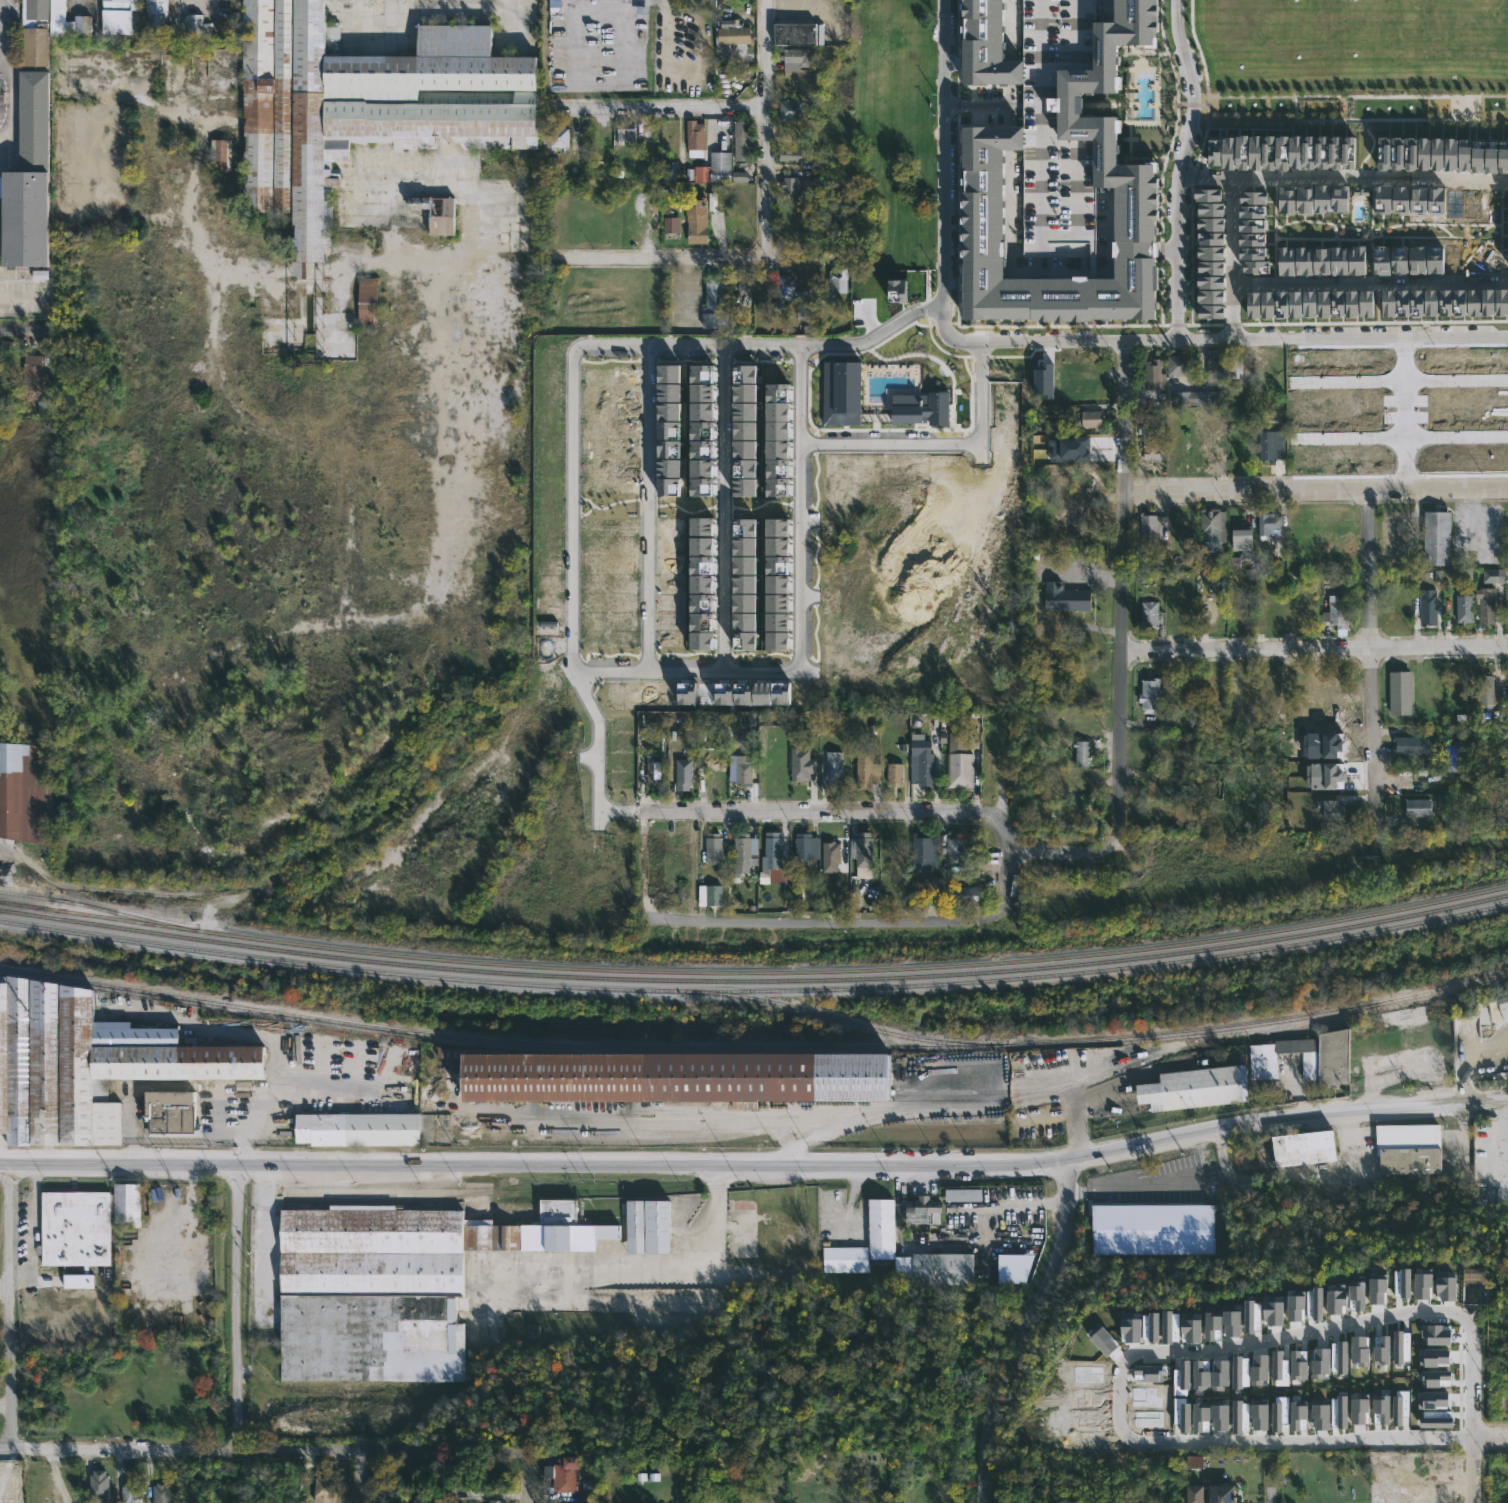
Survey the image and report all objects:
road: (1106, 9)
building: (117, 15)
road: (795, 15)
building: (156, 16)
road: (667, 24)
building: (196, 25)
building: (47, 28)
road: (1008, 30)
building: (795, 32)
building: (734, 34)
building: (986, 47)
building: (796, 57)
road: (1009, 74)
road: (12, 101)
road: (955, 103)
road: (989, 103)
building: (363, 106)
road: (1009, 108)
road: (695, 109)
building: (791, 109)
building: (625, 130)
building: (1055, 130)
parking garage: (1055, 130)
road: (766, 131)
building: (555, 138)
building: (695, 138)
building: (741, 139)
road: (1009, 141)
building: (1295, 151)
building: (1249, 152)
building: (1328, 152)
building: (1383, 153)
building: (1397, 153)
building: (1410, 153)
building: (1437, 153)
building: (1450, 153)
building: (793, 154)
building: (1423, 154)
building: (220, 155)
building: (1464, 155)
building: (1477, 156)
building: (1490, 157)
building: (1503, 157)
building: (984, 158)
building: (721, 166)
road: (940, 168)
road: (1177, 168)
road: (1342, 177)
building: (27, 178)
building: (790, 185)
building: (1208, 195)
building: (1360, 196)
building: (1322, 198)
building: (1340, 199)
building: (1382, 199)
building: (1304, 200)
building: (1400, 200)
building: (1286, 201)
building: (1252, 204)
building: (791, 206)
building: (437, 213)
building: (697, 221)
road: (1108, 222)
building: (671, 225)
building: (1251, 225)
building: (1251, 239)
building: (1210, 246)
road: (1136, 248)
road: (1168, 248)
road: (1103, 249)
road: (1232, 257)
building: (1252, 259)
road: (578, 260)
road: (708, 261)
building: (1321, 261)
road: (1010, 272)
building: (838, 279)
road: (1369, 280)
building: (744, 281)
building: (784, 289)
building: (897, 290)
building: (1210, 296)
parking lot: (25, 299)
building: (1446, 300)
building: (1460, 300)
building: (1473, 302)
building: (1487, 302)
building: (1501, 302)
building: (367, 303)
building: (1352, 303)
building: (1430, 303)
building: (715, 304)
building: (1274, 304)
building: (1316, 304)
building: (1366, 304)
building: (1211, 311)
road: (26, 330)
road: (1313, 338)
road: (969, 341)
road: (1056, 341)
building: (1235, 362)
building: (1179, 364)
building: (1216, 367)
building: (1155, 374)
building: (32, 376)
building: (1069, 381)
building: (1092, 381)
building: (1044, 382)
road: (1398, 384)
building: (835, 389)
building: (701, 400)
building: (912, 404)
road: (1399, 413)
building: (1092, 418)
building: (744, 430)
building: (776, 441)
building: (1151, 441)
building: (1181, 441)
road: (1398, 441)
building: (1211, 442)
road: (933, 444)
building: (1267, 445)
building: (1082, 450)
railway: (728, 463)
building: (701, 487)
road: (1316, 492)
road: (647, 509)
road: (718, 512)
building: (1082, 515)
building: (1270, 523)
building: (1214, 525)
building: (1148, 532)
building: (1435, 537)
building: (1506, 537)
building: (1244, 540)
building: (1233, 563)
building: (1491, 575)
road: (1122, 579)
building: (701, 584)
building: (744, 584)
building: (777, 584)
building: (1217, 584)
road: (573, 592)
road: (1036, 593)
building: (1066, 598)
building: (1485, 606)
building: (1429, 607)
building: (1307, 609)
building: (1465, 609)
building: (1339, 612)
building: (1152, 615)
road: (1314, 649)
road: (1373, 656)
building: (1507, 670)
building: (1486, 689)
building: (734, 693)
building: (771, 693)
building: (1401, 693)
building: (1151, 696)
building: (1068, 721)
building: (1418, 745)
building: (1331, 747)
building: (1082, 754)
building: (1455, 758)
building: (958, 760)
road: (595, 766)
building: (803, 768)
building: (834, 768)
building: (922, 769)
building: (744, 770)
building: (653, 772)
building: (683, 773)
building: (867, 774)
building: (895, 774)
building: (1323, 776)
road: (998, 780)
building: (1082, 782)
building: (26, 793)
road: (757, 806)
building: (1419, 806)
building: (1333, 808)
road: (1000, 825)
building: (685, 848)
building: (713, 848)
building: (772, 848)
building: (807, 848)
building: (745, 849)
building: (954, 849)
road: (1075, 852)
building: (862, 853)
road: (21, 856)
building: (924, 856)
building: (830, 857)
road: (1006, 888)
building: (709, 895)
building: (964, 895)
railway: (15, 902)
railway: (15, 904)
railway: (88, 904)
road: (821, 922)
railway: (1099, 969)
railway: (770, 971)
railway: (755, 979)
railway: (503, 982)
building: (1502, 1000)
building: (1464, 1026)
railway: (754, 1046)
building: (1346, 1046)
railway: (1043, 1061)
building: (86, 1063)
railway: (360, 1076)
building: (669, 1079)
building: (1196, 1087)
railway: (762, 1091)
railway: (833, 1110)
building: (170, 1113)
road: (1506, 1118)
building: (357, 1128)
building: (1306, 1147)
building: (1410, 1148)
road: (756, 1159)
road: (1307, 1171)
road: (1162, 1177)
railway: (620, 1191)
building: (964, 1195)
building: (896, 1221)
building: (84, 1223)
road: (191, 1225)
building: (648, 1225)
building: (1153, 1229)
road: (35, 1230)
road: (260, 1236)
building: (844, 1259)
road: (689, 1262)
building: (935, 1268)
building: (1013, 1268)
building: (78, 1281)
building: (1402, 1283)
building: (393, 1285)
building: (1445, 1285)
building: (1422, 1286)
building: (1377, 1291)
building: (1356, 1296)
building: (1336, 1298)
building: (1314, 1304)
building: (1295, 1305)
road: (10, 1306)
road: (239, 1308)
building: (1273, 1310)
building: (1128, 1313)
building: (1252, 1316)
building: (1212, 1321)
building: (1231, 1323)
building: (1191, 1324)
building: (1149, 1327)
building: (1170, 1327)
road: (1024, 1329)
building: (1131, 1329)
building: (1436, 1334)
building: (1104, 1342)
building: (1401, 1346)
road: (1155, 1350)
building: (1359, 1351)
building: (1381, 1351)
building: (1338, 1357)
building: (1436, 1357)
building: (1320, 1362)
building: (1298, 1366)
building: (1259, 1368)
building: (1279, 1369)
road: (5, 1370)
building: (1240, 1372)
building: (1220, 1375)
building: (1182, 1376)
building: (1200, 1376)
building: (1436, 1379)
building: (1434, 1400)
road: (4, 1404)
building: (1349, 1405)
building: (1400, 1406)
building: (1381, 1409)
building: (1339, 1411)
building: (1359, 1411)
building: (1279, 1412)
building: (1181, 1413)
building: (1298, 1415)
building: (1240, 1416)
building: (1320, 1416)
building: (1201, 1417)
building: (1220, 1417)
building: (1259, 1417)
building: (1436, 1419)
road: (1440, 1431)
road: (1473, 1440)
road: (263, 1453)
building: (1194, 1461)
building: (1305, 1463)
building: (1417, 1463)
building: (566, 1475)
road: (343, 1478)
road: (527, 1481)
building: (98, 1485)
building: (323, 1490)
building: (160, 1493)
building: (1195, 1493)
building: (129, 1494)
building: (1223, 1494)
building: (586, 1496)
road: (1269, 1496)
building: (495, 1501)

